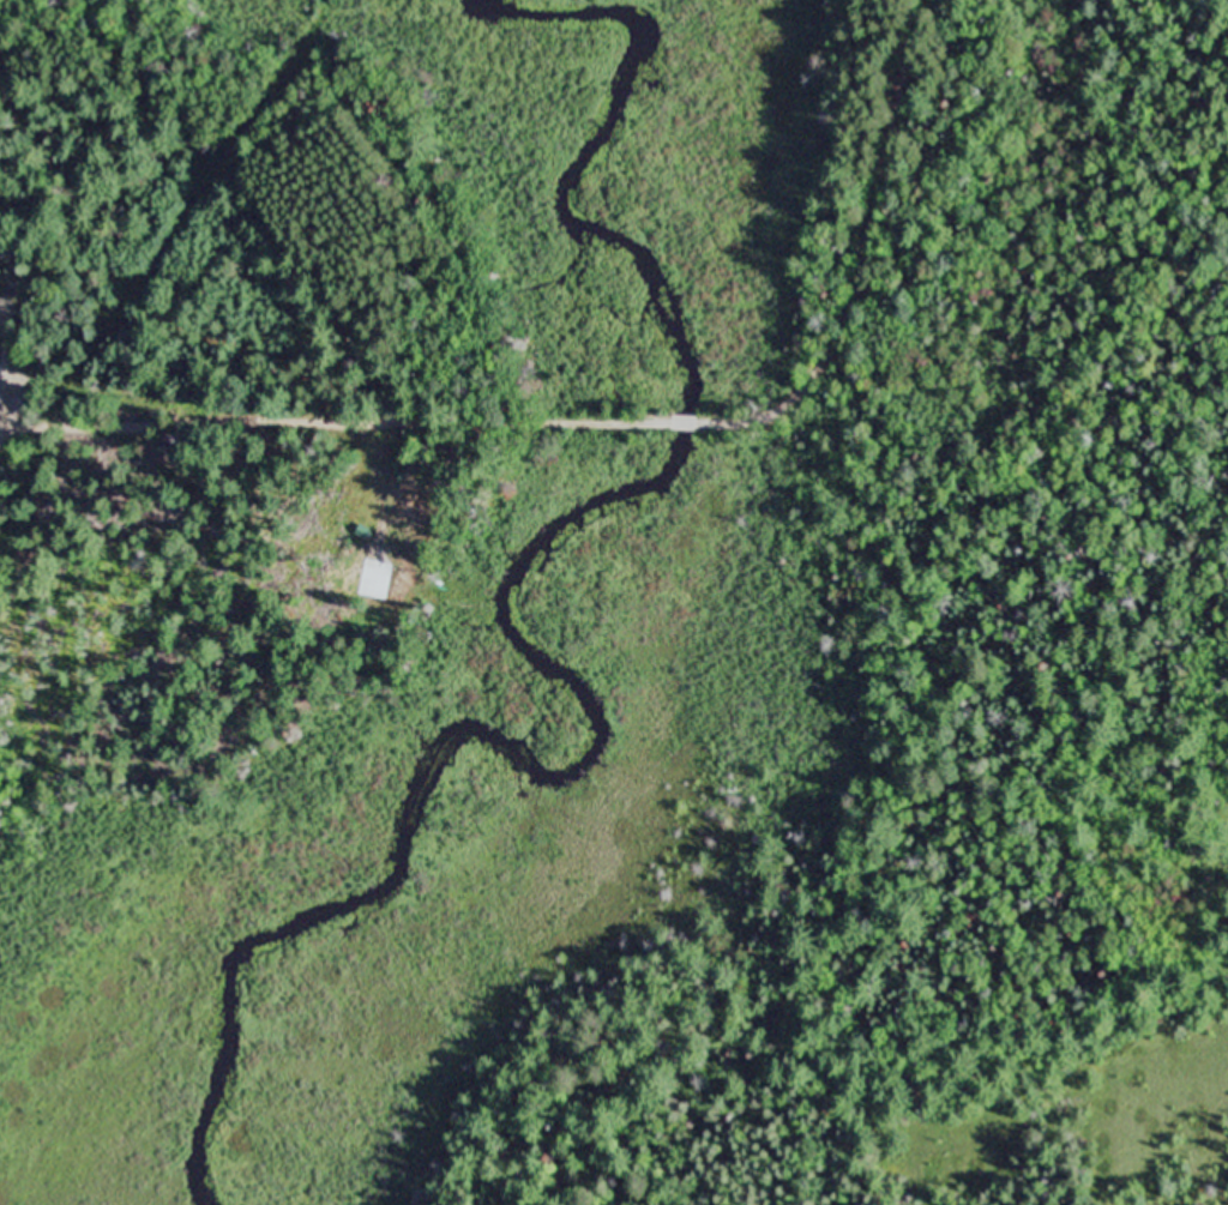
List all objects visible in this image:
road: (862, 258)
road: (332, 422)
road: (680, 422)

